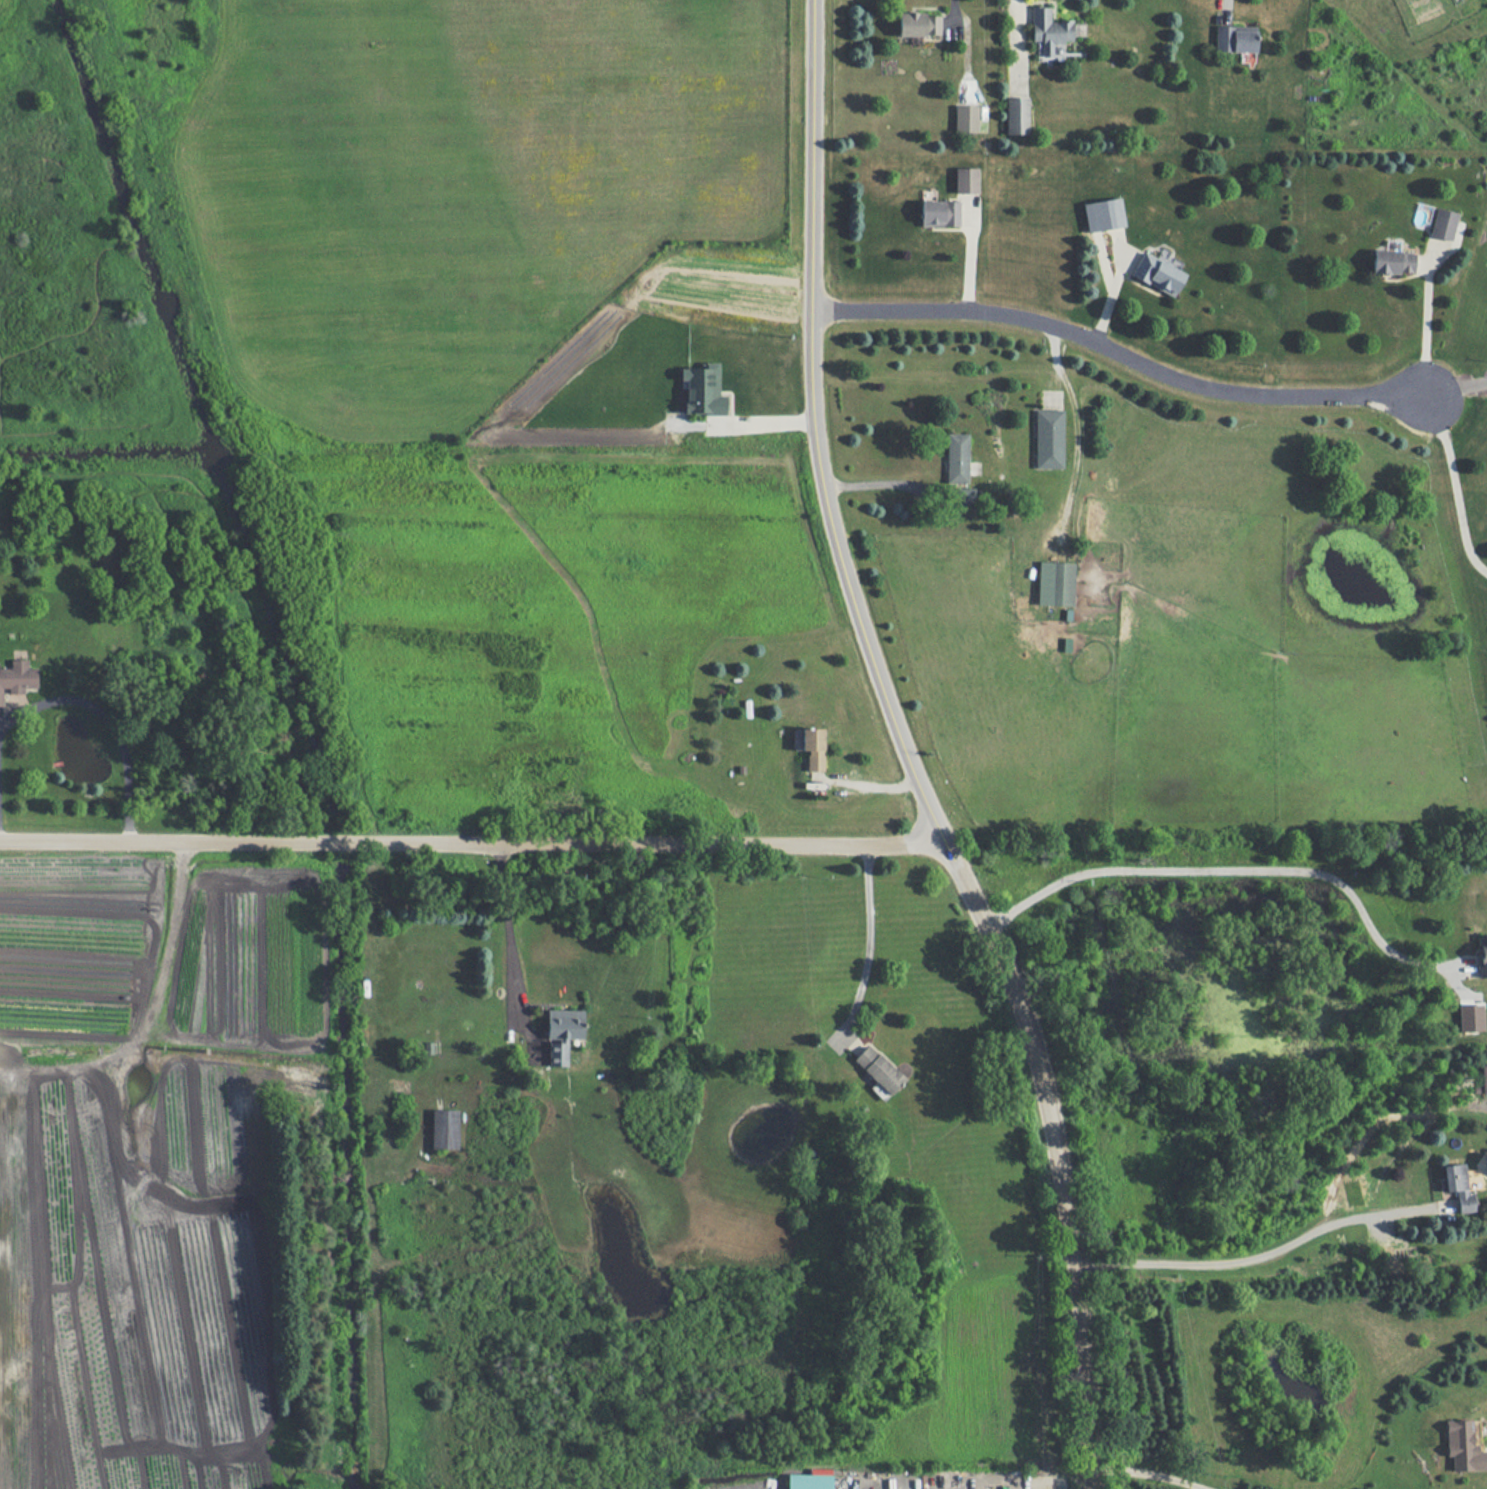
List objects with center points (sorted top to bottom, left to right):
road: (1224, 10)
road: (953, 17)
building: (919, 24)
building: (1049, 32)
building: (1235, 39)
road: (1017, 47)
building: (1016, 116)
building: (965, 118)
building: (965, 180)
building: (938, 213)
building: (1103, 214)
building: (1442, 224)
building: (1392, 261)
building: (1158, 274)
road: (1424, 329)
road: (1120, 354)
building: (703, 390)
road: (1457, 400)
road: (763, 417)
building: (1048, 439)
building: (956, 458)
road: (883, 478)
road: (1455, 486)
building: (1055, 583)
building: (17, 677)
road: (107, 723)
building: (813, 748)
road: (911, 752)
road: (471, 846)
road: (1238, 871)
road: (510, 938)
road: (870, 940)
building: (1483, 960)
building: (1470, 1017)
building: (562, 1033)
building: (879, 1069)
building: (1484, 1078)
building: (444, 1129)
building: (1458, 1186)
road: (1250, 1259)
building: (1464, 1445)
road: (1068, 1471)
road: (1148, 1473)
building: (808, 1481)

